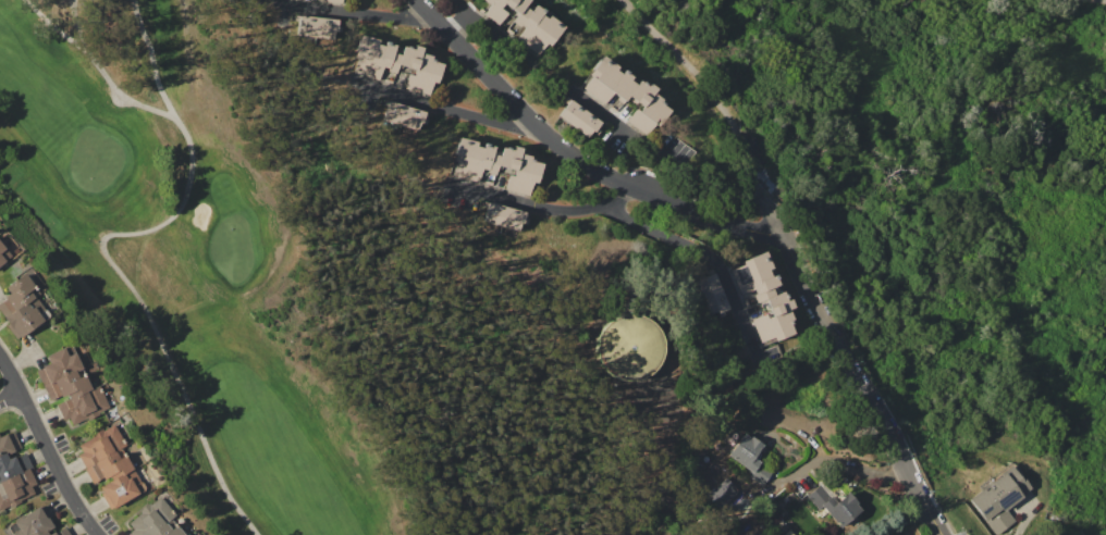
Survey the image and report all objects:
road: (1104, 0)
building: (331, 1)
building: (502, 9)
road: (347, 11)
road: (457, 16)
building: (316, 26)
building: (534, 27)
road: (491, 32)
building: (508, 32)
building: (371, 57)
building: (414, 69)
building: (388, 82)
building: (607, 82)
road: (718, 104)
road: (441, 107)
building: (646, 108)
building: (402, 115)
building: (578, 117)
road: (573, 153)
building: (474, 158)
building: (518, 170)
road: (544, 207)
building: (502, 216)
building: (7, 249)
road: (710, 254)
building: (753, 277)
park: (284, 288)
building: (21, 290)
building: (710, 294)
building: (32, 314)
building: (773, 319)
building: (629, 347)
building: (59, 364)
building: (67, 385)
road: (857, 386)
road: (9, 396)
building: (83, 406)
building: (763, 432)
building: (60, 441)
building: (710, 441)
building: (9, 444)
building: (100, 446)
road: (45, 448)
building: (750, 458)
building: (13, 465)
building: (109, 466)
road: (853, 470)
building: (122, 488)
building: (15, 489)
building: (997, 500)
road: (650, 506)
building: (834, 506)
building: (1053, 517)
building: (155, 520)
building: (32, 523)
road: (693, 524)
building: (61, 532)
building: (900, 533)
building: (186, 534)

